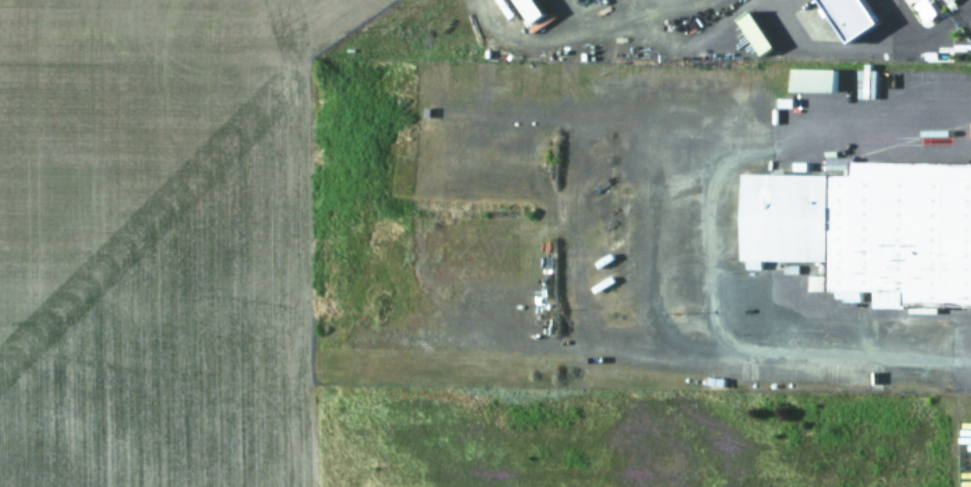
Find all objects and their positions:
building: (946, 0)
building: (925, 9)
building: (529, 10)
building: (848, 17)
building: (755, 32)
building: (813, 79)
building: (865, 81)
building: (869, 232)
crop: (155, 240)
road: (708, 247)

